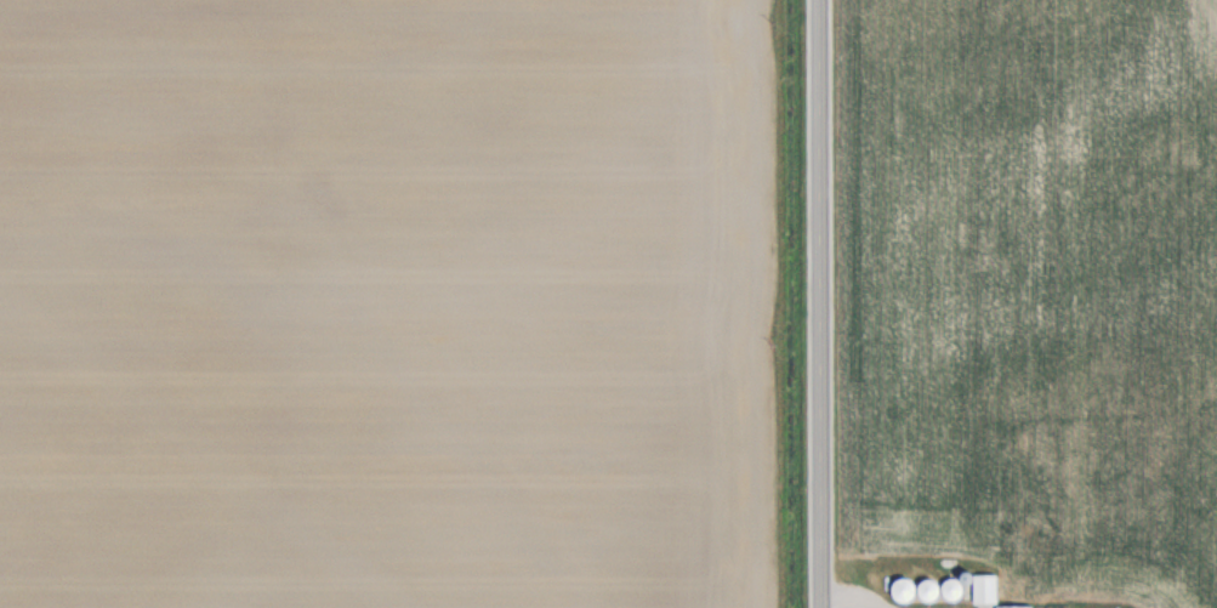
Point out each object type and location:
road: (823, 303)
building: (905, 589)
building: (982, 589)
building: (1012, 606)

